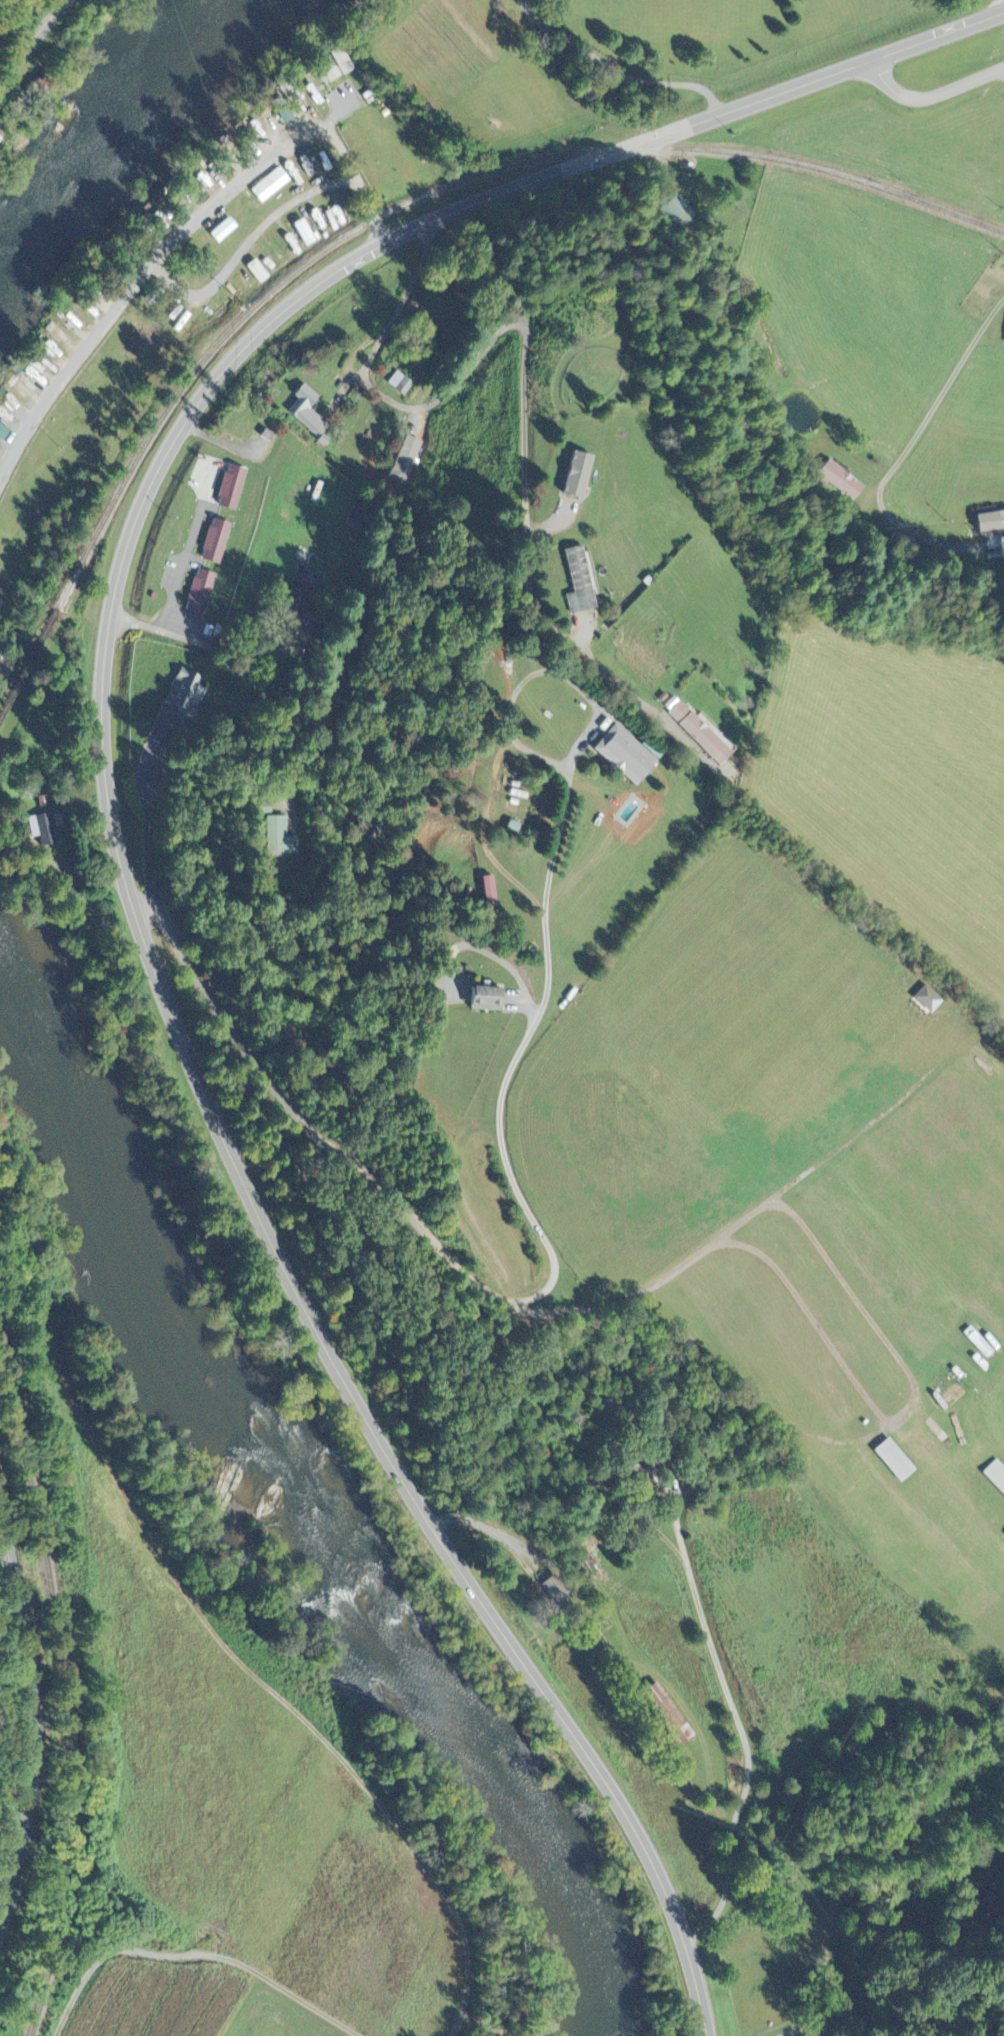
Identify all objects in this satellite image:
road: (31, 41)
road: (618, 70)
road: (933, 93)
river: (102, 113)
building: (274, 186)
railway: (438, 187)
building: (680, 211)
building: (227, 231)
building: (308, 234)
building: (260, 273)
building: (1003, 341)
park: (592, 374)
road: (462, 381)
building: (402, 384)
building: (310, 413)
building: (5, 431)
building: (583, 475)
building: (840, 481)
building: (235, 488)
building: (987, 522)
building: (218, 541)
building: (1002, 547)
building: (582, 583)
building: (301, 591)
building: (203, 592)
railway: (28, 660)
building: (187, 689)
building: (631, 755)
road: (117, 828)
building: (45, 830)
building: (280, 837)
building: (493, 892)
river: (25, 982)
building: (490, 1000)
building: (931, 1000)
road: (413, 1223)
building: (898, 1461)
building: (994, 1477)
building: (1003, 1535)
river: (345, 1537)
building: (556, 1592)
railway: (70, 1697)
road: (34, 1716)
road: (740, 1725)
building: (980, 1902)
road: (813, 2028)
road: (822, 2031)

